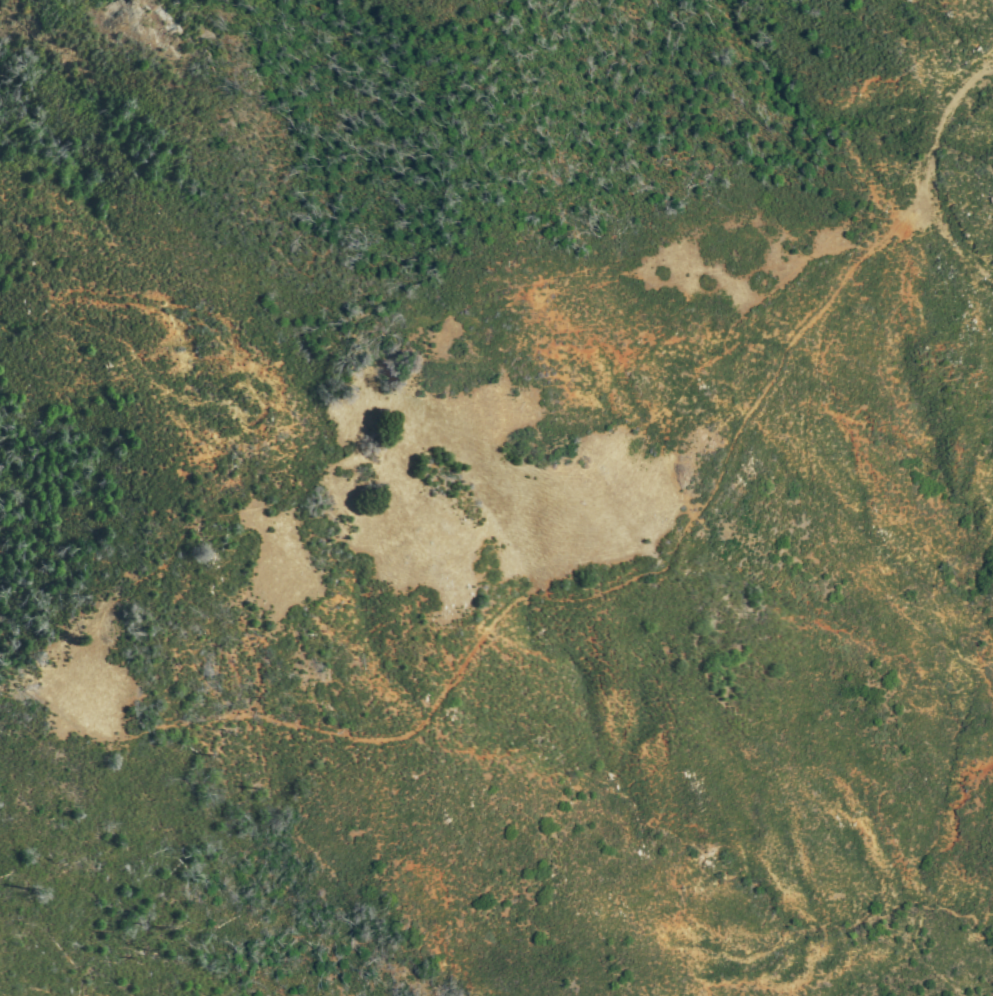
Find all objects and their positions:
road: (956, 108)

